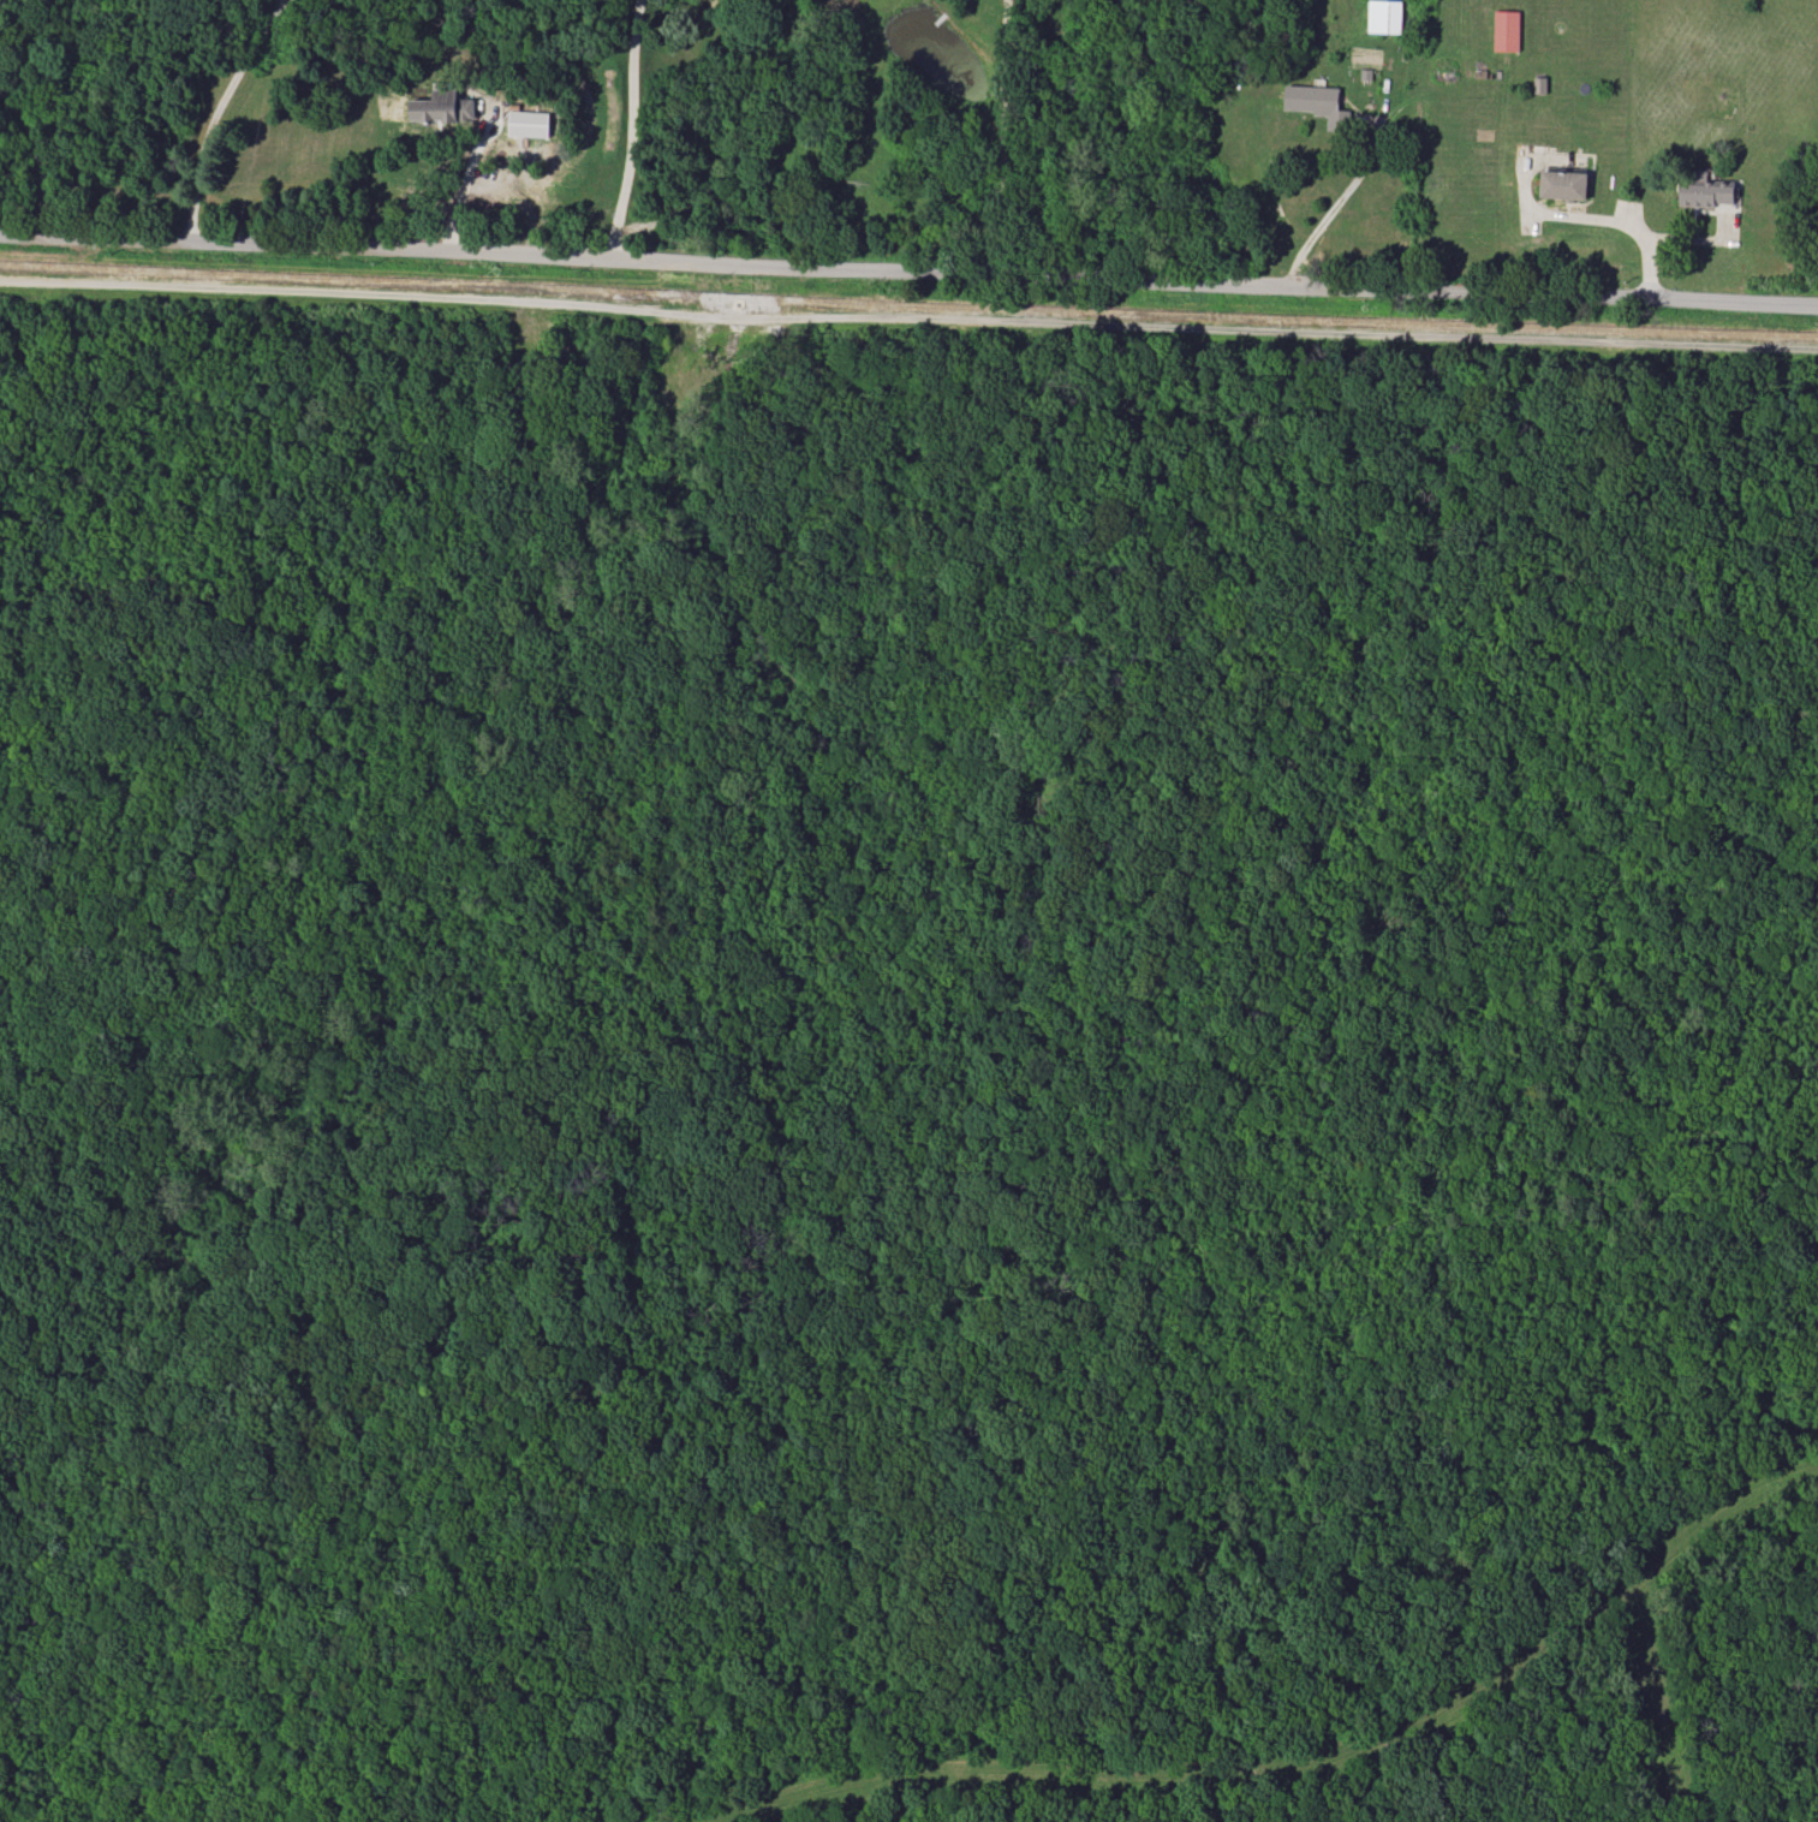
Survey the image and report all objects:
building: (1383, 16)
building: (1506, 30)
building: (1316, 103)
building: (442, 108)
road: (220, 112)
building: (529, 124)
road: (630, 129)
road: (1001, 135)
road: (35, 139)
road: (470, 173)
building: (1562, 185)
building: (1704, 191)
road: (1331, 202)
road: (908, 268)
road: (908, 320)

